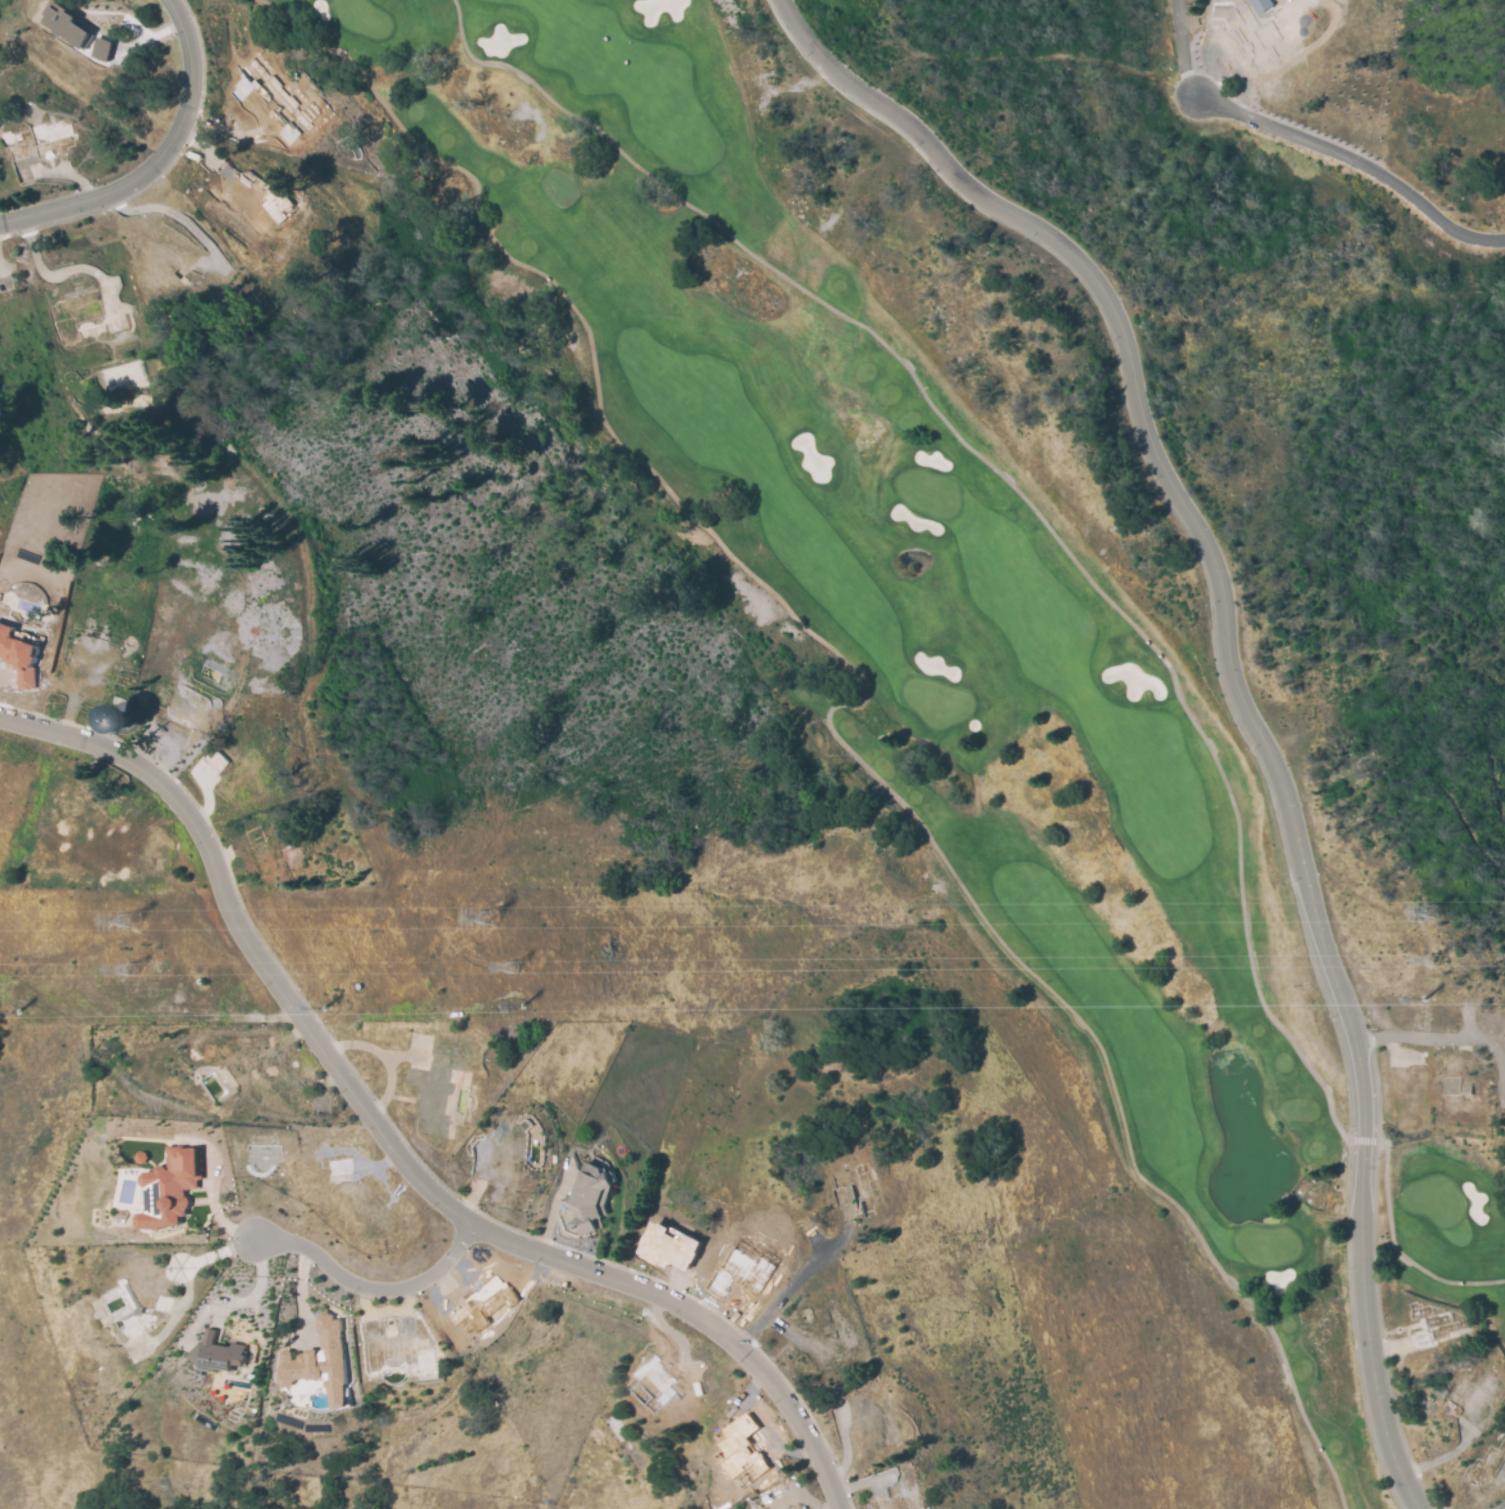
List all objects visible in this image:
building: (1261, 5)
building: (67, 25)
building: (102, 49)
road: (1182, 51)
building: (278, 96)
road: (151, 153)
road: (1358, 163)
building: (275, 201)
building: (18, 655)
road: (1230, 682)
park: (953, 706)
building: (121, 719)
power tower: (1434, 912)
power tower: (488, 918)
power tower: (130, 922)
power tower: (1431, 962)
power tower: (512, 969)
power tower: (129, 971)
power tower: (1431, 998)
power tower: (537, 1006)
power tower: (6, 1012)
road: (261, 1018)
road: (1440, 1039)
road: (395, 1138)
building: (140, 1157)
building: (170, 1187)
building: (591, 1196)
building: (670, 1246)
road: (375, 1289)
road: (791, 1293)
building: (217, 1353)
building: (319, 1361)
building: (741, 1444)

